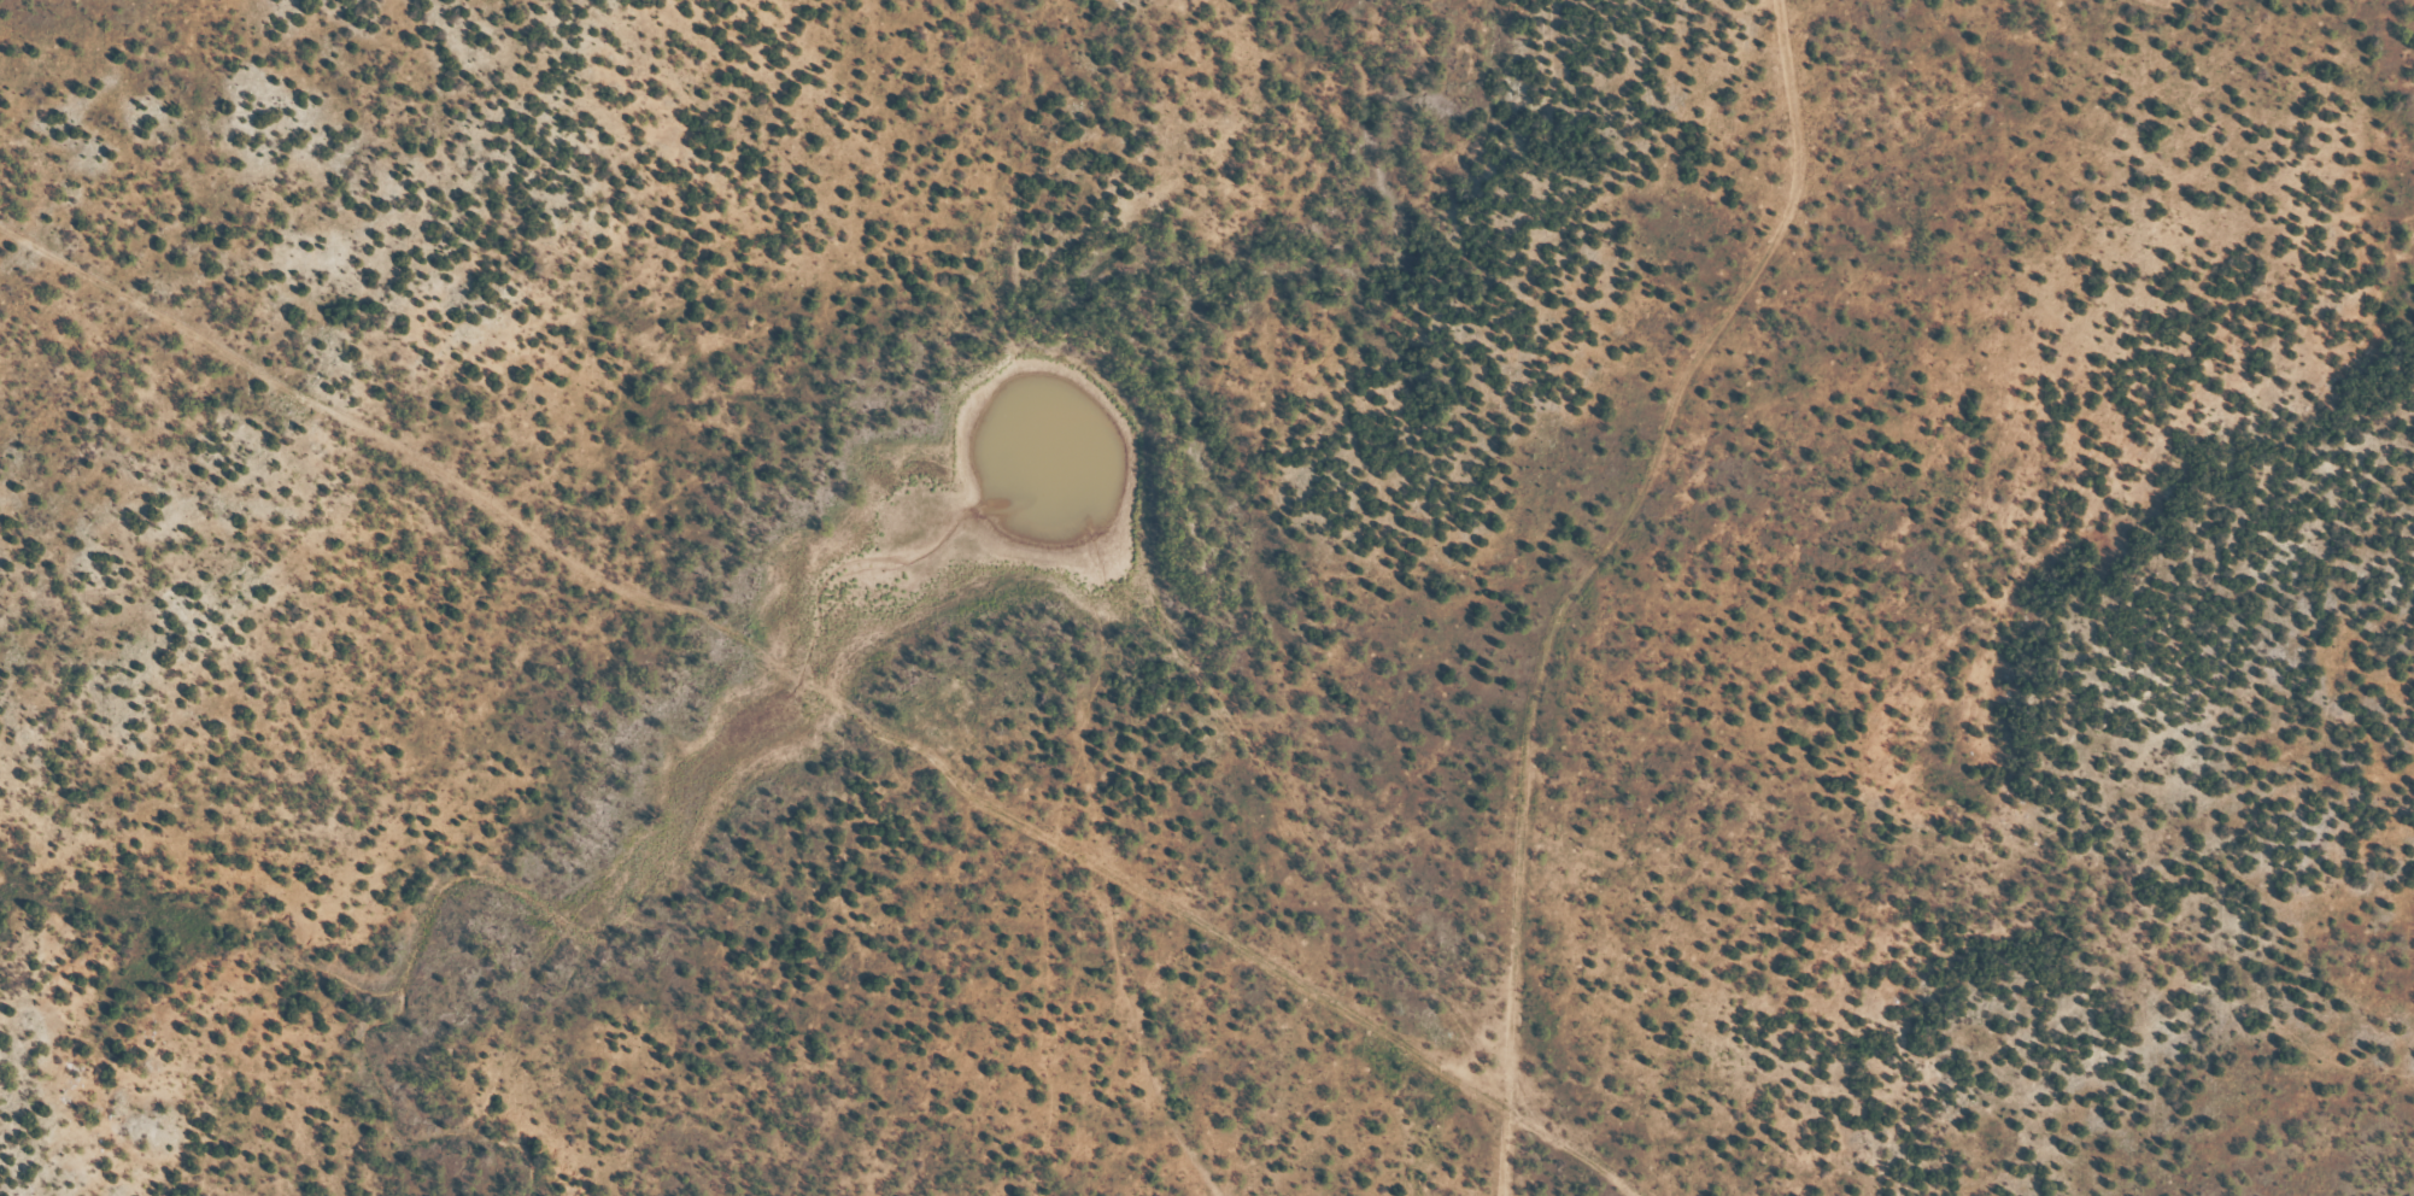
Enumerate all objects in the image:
road: (1404, 509)
road: (1467, 611)

